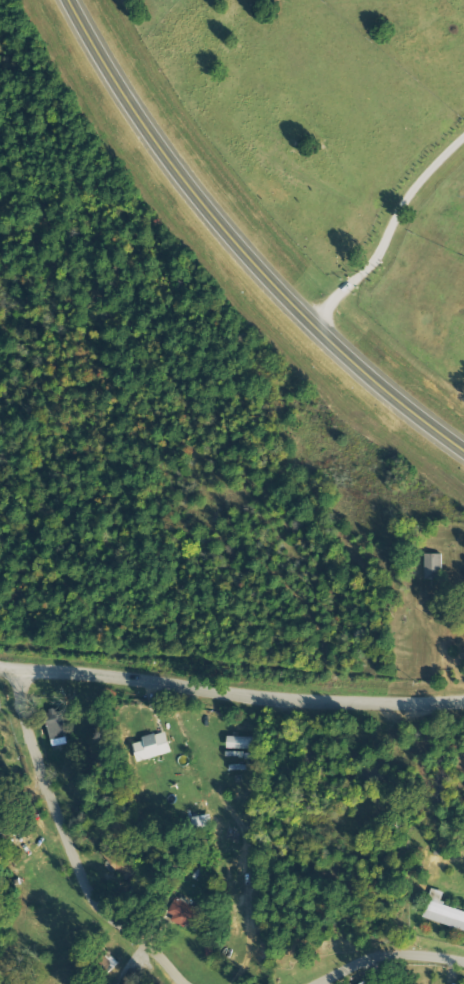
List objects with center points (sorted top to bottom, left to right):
road: (238, 248)
building: (434, 567)
road: (231, 692)
building: (57, 727)
building: (154, 747)
building: (0, 783)
road: (67, 843)
building: (443, 912)
building: (186, 914)
road: (386, 953)
building: (135, 978)
building: (369, 983)

